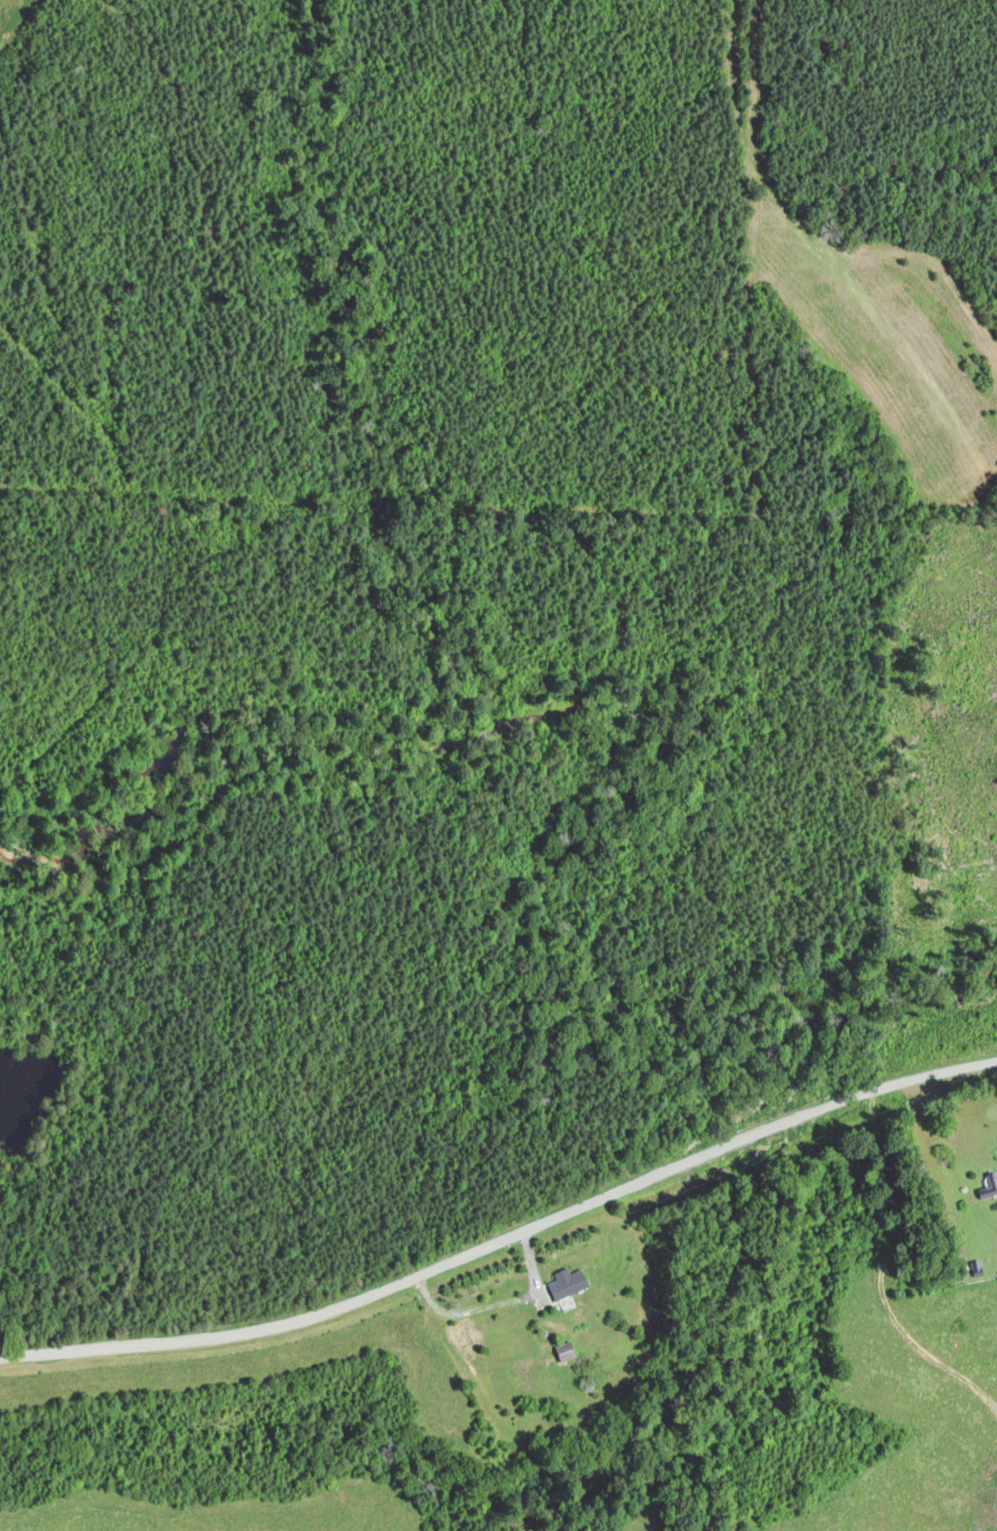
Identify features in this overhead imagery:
building: (988, 1184)
road: (505, 1238)
building: (572, 1282)
road: (497, 1302)
building: (467, 1329)
building: (568, 1350)

